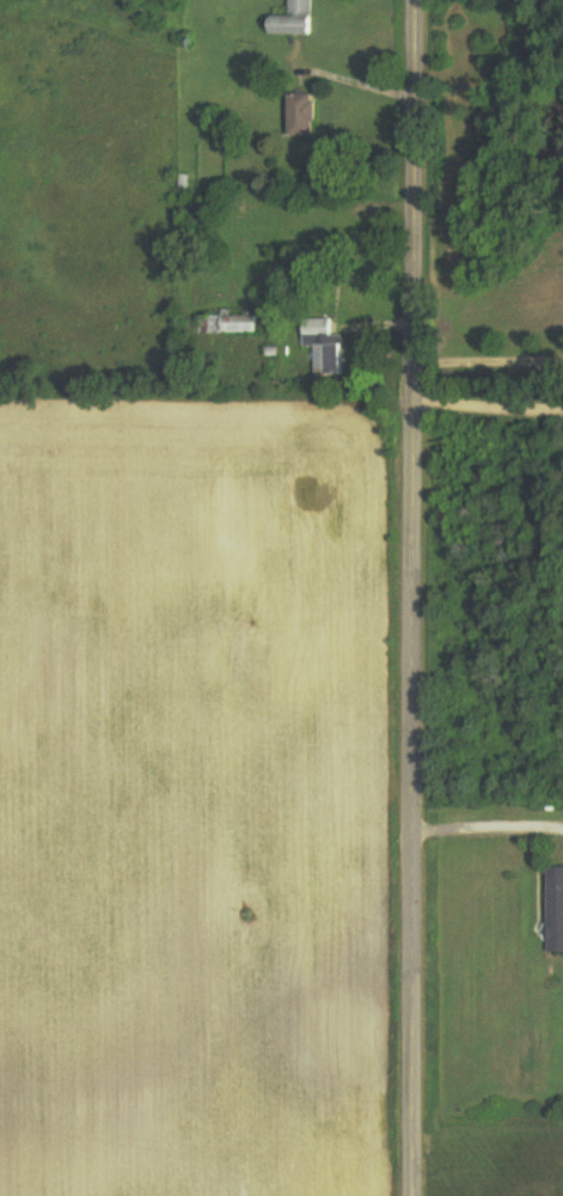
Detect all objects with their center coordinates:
building: (298, 19)
road: (355, 84)
building: (307, 116)
building: (319, 237)
building: (234, 324)
building: (326, 348)
road: (489, 361)
road: (489, 396)
road: (415, 598)
road: (489, 816)
building: (555, 910)

